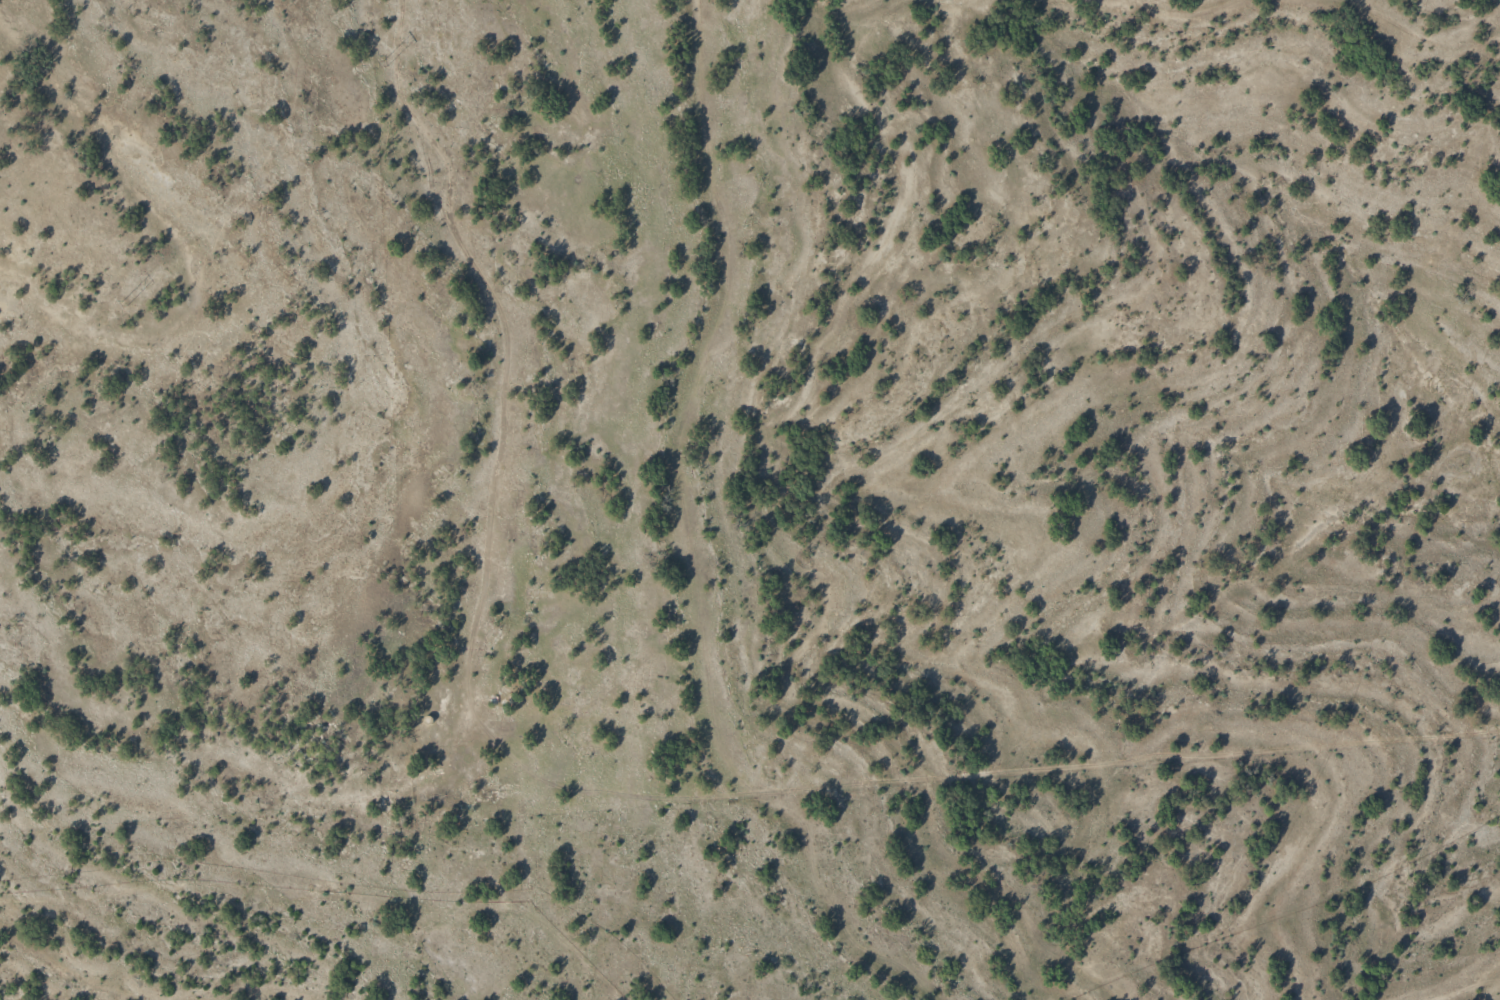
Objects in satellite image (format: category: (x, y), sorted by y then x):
power tower: (384, 65)
power tower: (124, 305)
road: (722, 718)

